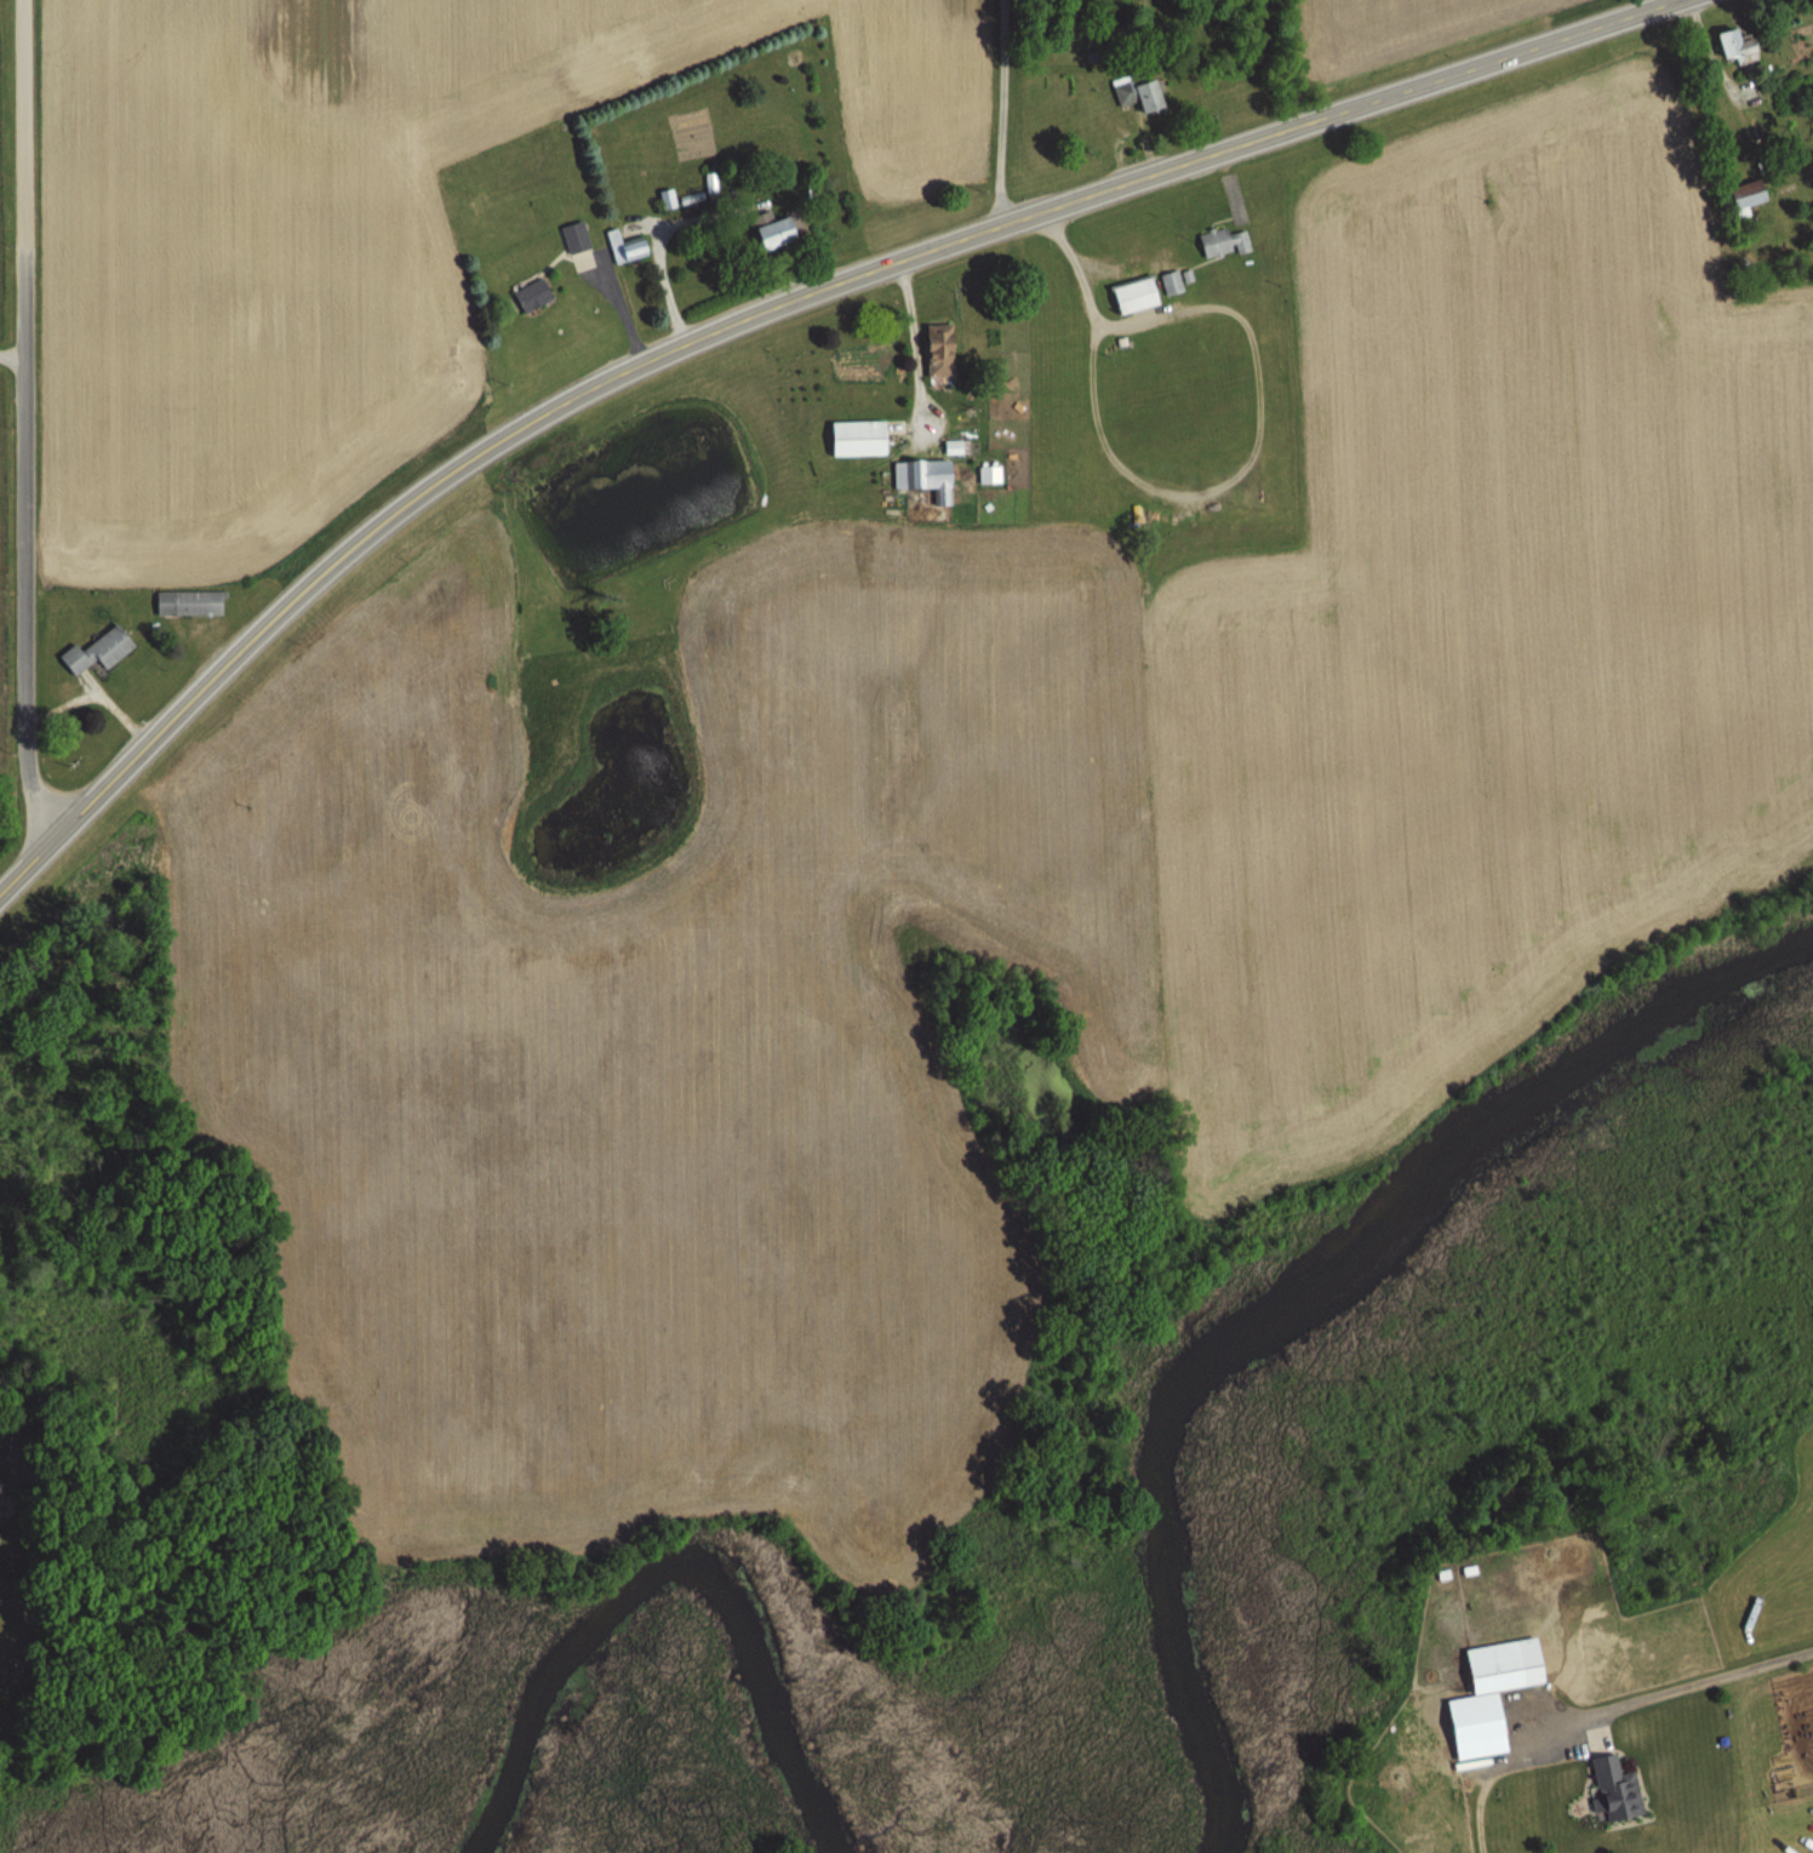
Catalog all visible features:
building: (1740, 47)
building: (1140, 95)
road: (1002, 113)
building: (1751, 194)
building: (782, 230)
building: (577, 238)
building: (1224, 242)
building: (628, 247)
building: (1173, 282)
building: (534, 294)
building: (1137, 294)
road: (763, 311)
building: (942, 351)
road: (11, 355)
road: (23, 422)
building: (860, 439)
building: (926, 479)
road: (1199, 491)
building: (190, 604)
building: (99, 652)
river: (1296, 1293)
building: (1, 1498)
river: (671, 1571)
building: (1506, 1665)
building: (1619, 1789)

